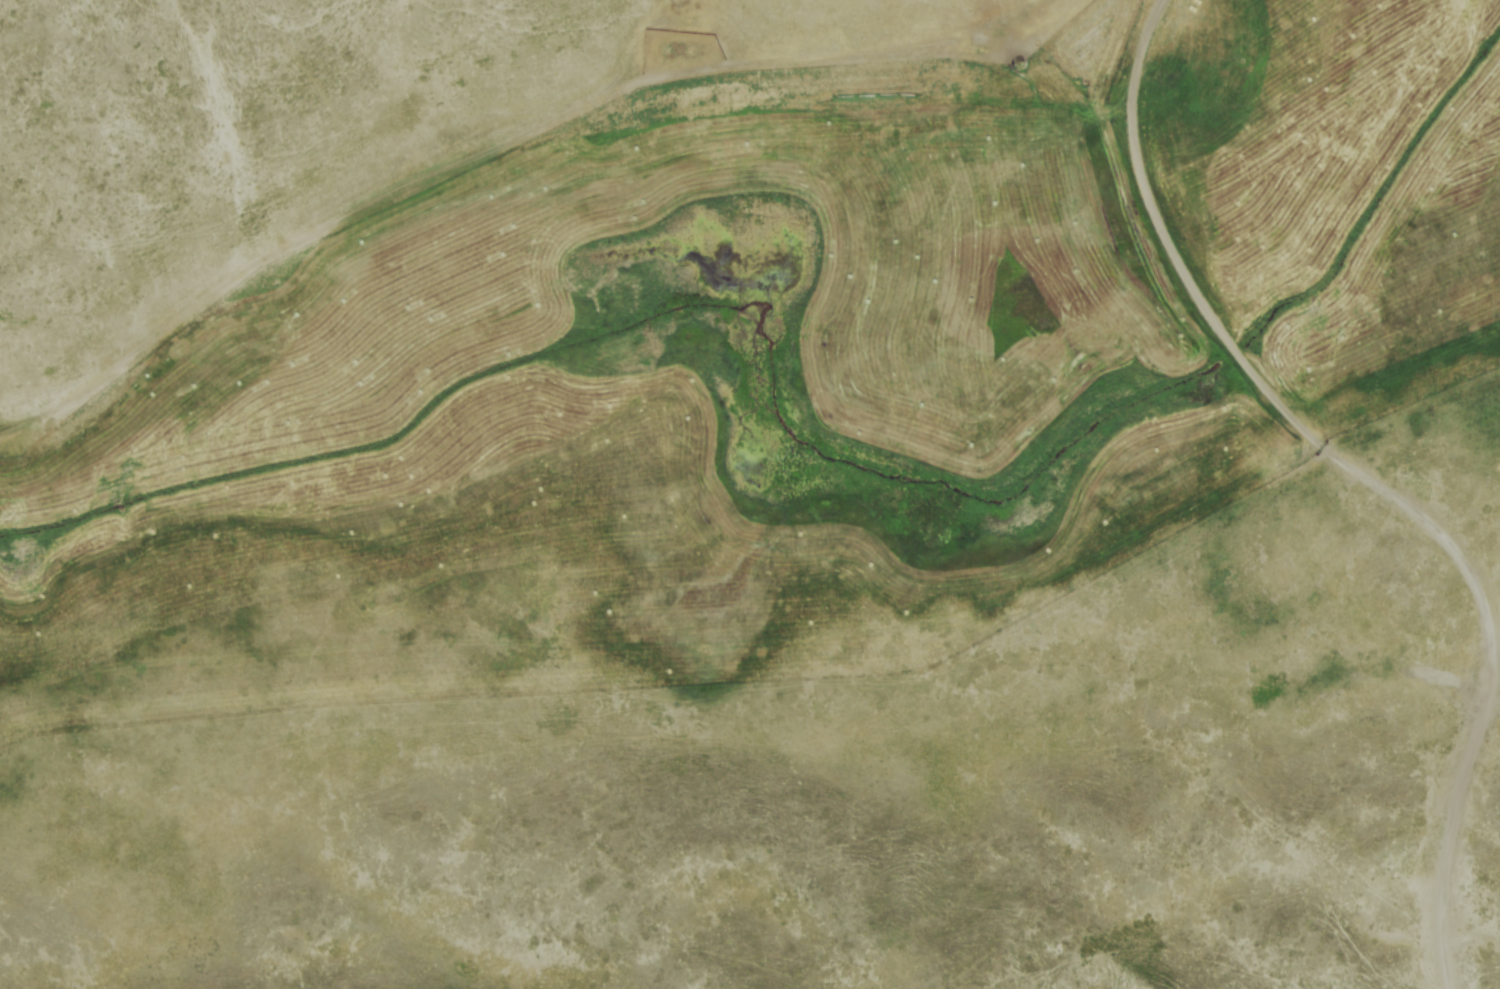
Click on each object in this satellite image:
road: (1253, 377)
road: (1493, 680)
road: (1447, 839)

